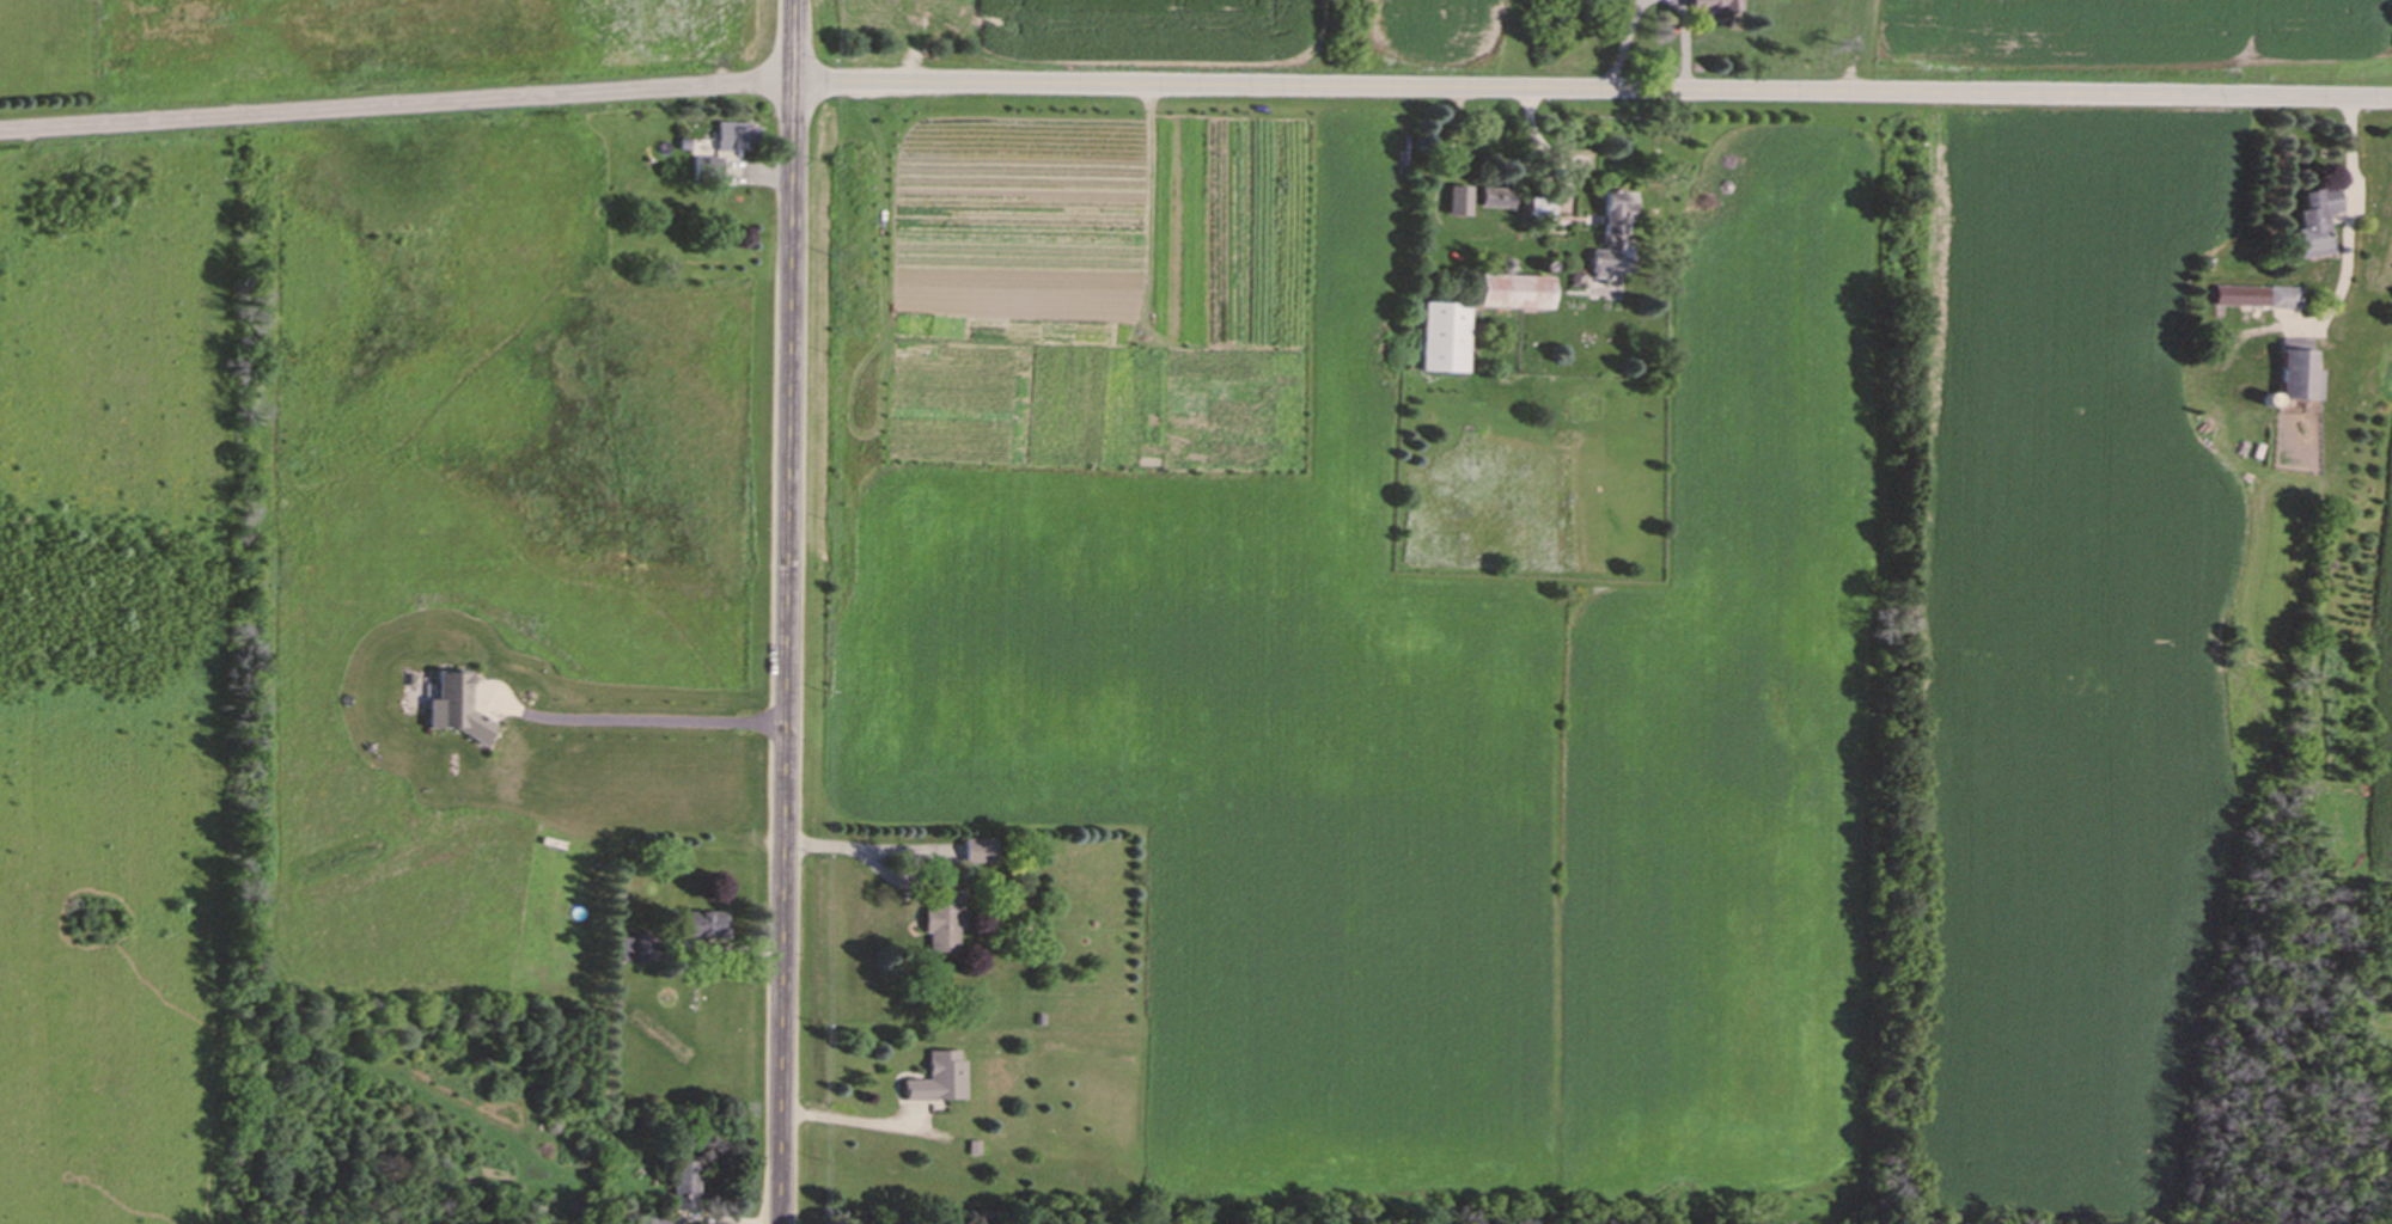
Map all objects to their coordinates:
building: (1719, 6)
crop: (1252, 29)
crop: (2136, 38)
road: (1195, 84)
building: (738, 137)
building: (1500, 201)
building: (1463, 204)
building: (1543, 212)
road: (2345, 212)
building: (2320, 224)
building: (1610, 250)
building: (1520, 295)
building: (2258, 299)
building: (1446, 339)
building: (2303, 379)
road: (788, 612)
crop: (1566, 653)
crop: (2379, 693)
road: (649, 717)
building: (981, 853)
building: (945, 923)
building: (702, 926)
building: (635, 951)
building: (940, 1081)
road: (853, 1116)
building: (685, 1188)

